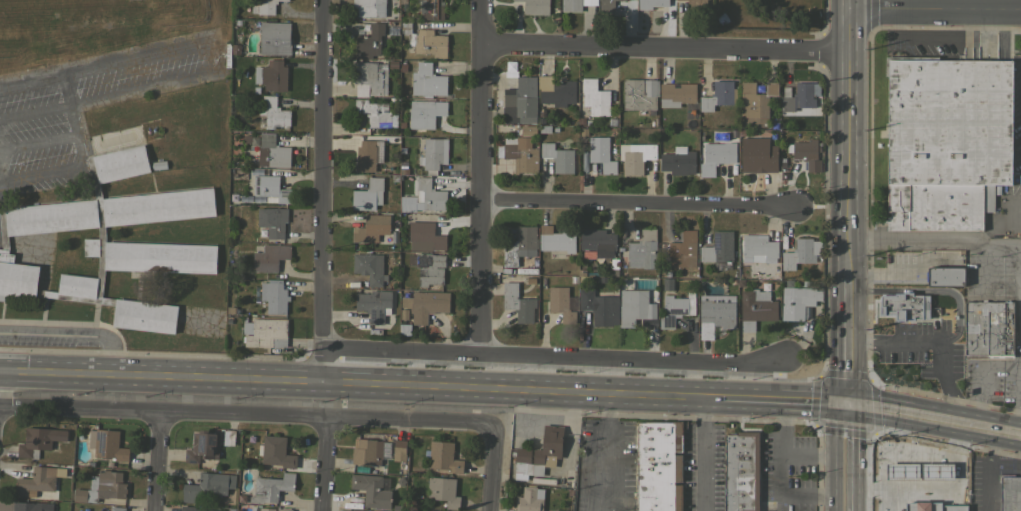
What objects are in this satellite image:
building: (284, 0)
building: (653, 3)
building: (576, 4)
building: (535, 6)
building: (607, 6)
building: (697, 6)
building: (263, 7)
building: (368, 8)
building: (431, 9)
road: (937, 10)
building: (722, 18)
building: (237, 22)
building: (256, 25)
building: (391, 31)
building: (275, 38)
building: (425, 41)
building: (369, 42)
road: (668, 47)
building: (235, 49)
building: (392, 64)
building: (403, 68)
building: (271, 75)
building: (370, 75)
building: (427, 80)
road: (27, 82)
building: (405, 90)
building: (556, 91)
building: (640, 93)
building: (677, 94)
building: (718, 95)
building: (799, 96)
building: (595, 97)
building: (520, 101)
building: (756, 103)
building: (540, 111)
building: (273, 113)
building: (375, 113)
building: (425, 113)
building: (581, 121)
building: (948, 121)
road: (69, 122)
building: (588, 122)
building: (612, 122)
building: (774, 126)
building: (543, 128)
building: (554, 128)
building: (527, 130)
building: (740, 132)
building: (791, 136)
road: (852, 138)
building: (272, 151)
building: (806, 153)
building: (601, 154)
building: (431, 155)
building: (519, 155)
building: (758, 155)
building: (365, 156)
building: (558, 157)
building: (635, 157)
building: (716, 157)
building: (678, 161)
building: (121, 163)
road: (35, 175)
road: (482, 177)
building: (270, 188)
road: (320, 190)
building: (429, 194)
building: (368, 195)
road: (638, 204)
building: (158, 206)
building: (938, 206)
building: (410, 208)
building: (51, 217)
building: (271, 222)
building: (371, 228)
building: (2, 229)
building: (100, 232)
building: (424, 237)
building: (555, 239)
building: (598, 241)
road: (936, 243)
building: (520, 245)
building: (91, 247)
building: (718, 247)
building: (758, 248)
building: (643, 250)
building: (683, 250)
building: (801, 253)
building: (159, 257)
building: (269, 257)
building: (621, 261)
building: (613, 263)
building: (369, 267)
building: (428, 267)
building: (818, 269)
building: (528, 270)
building: (581, 273)
building: (613, 273)
building: (667, 274)
building: (945, 276)
building: (16, 277)
building: (529, 280)
building: (573, 280)
building: (582, 280)
building: (602, 280)
building: (788, 283)
building: (804, 283)
building: (666, 284)
building: (77, 285)
building: (764, 286)
road: (870, 290)
road: (942, 292)
building: (46, 293)
building: (274, 297)
building: (797, 301)
building: (517, 303)
building: (374, 304)
building: (425, 304)
building: (562, 304)
building: (902, 306)
building: (599, 307)
building: (634, 307)
building: (676, 308)
building: (756, 308)
building: (232, 311)
building: (144, 315)
building: (403, 315)
building: (715, 316)
building: (229, 321)
building: (643, 324)
building: (984, 329)
building: (1008, 329)
building: (265, 332)
road: (72, 334)
road: (852, 337)
road: (902, 340)
road: (553, 357)
road: (976, 369)
road: (359, 382)
road: (784, 396)
traffic signals: (852, 398)
road: (1018, 401)
road: (913, 407)
road: (248, 415)
road: (997, 423)
building: (38, 440)
building: (107, 444)
building: (202, 446)
building: (399, 449)
building: (921, 450)
building: (275, 451)
building: (370, 451)
road: (607, 451)
road: (701, 452)
road: (831, 452)
building: (539, 453)
road: (860, 454)
building: (443, 457)
road: (159, 461)
road: (326, 465)
building: (659, 466)
building: (374, 470)
road: (494, 471)
building: (741, 471)
road: (779, 471)
building: (910, 478)
building: (37, 480)
building: (399, 481)
building: (880, 485)
building: (208, 486)
building: (101, 487)
building: (271, 487)
building: (372, 489)
building: (443, 491)
building: (1010, 492)
building: (239, 498)
building: (529, 499)
building: (32, 506)
building: (117, 508)
building: (192, 508)
building: (283, 508)
building: (396, 508)
building: (230, 509)
building: (262, 509)
building: (354, 510)
building: (420, 510)
building: (559, 510)

